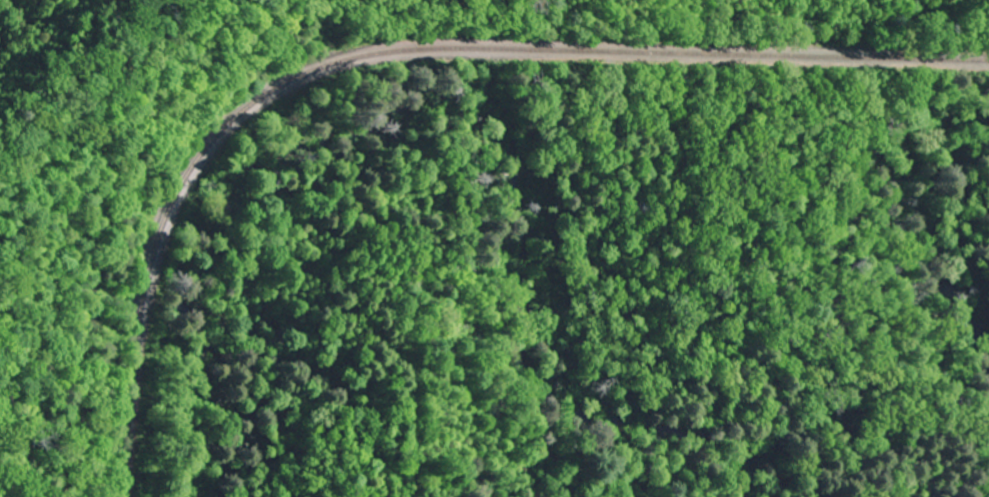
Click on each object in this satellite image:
railway: (402, 50)

